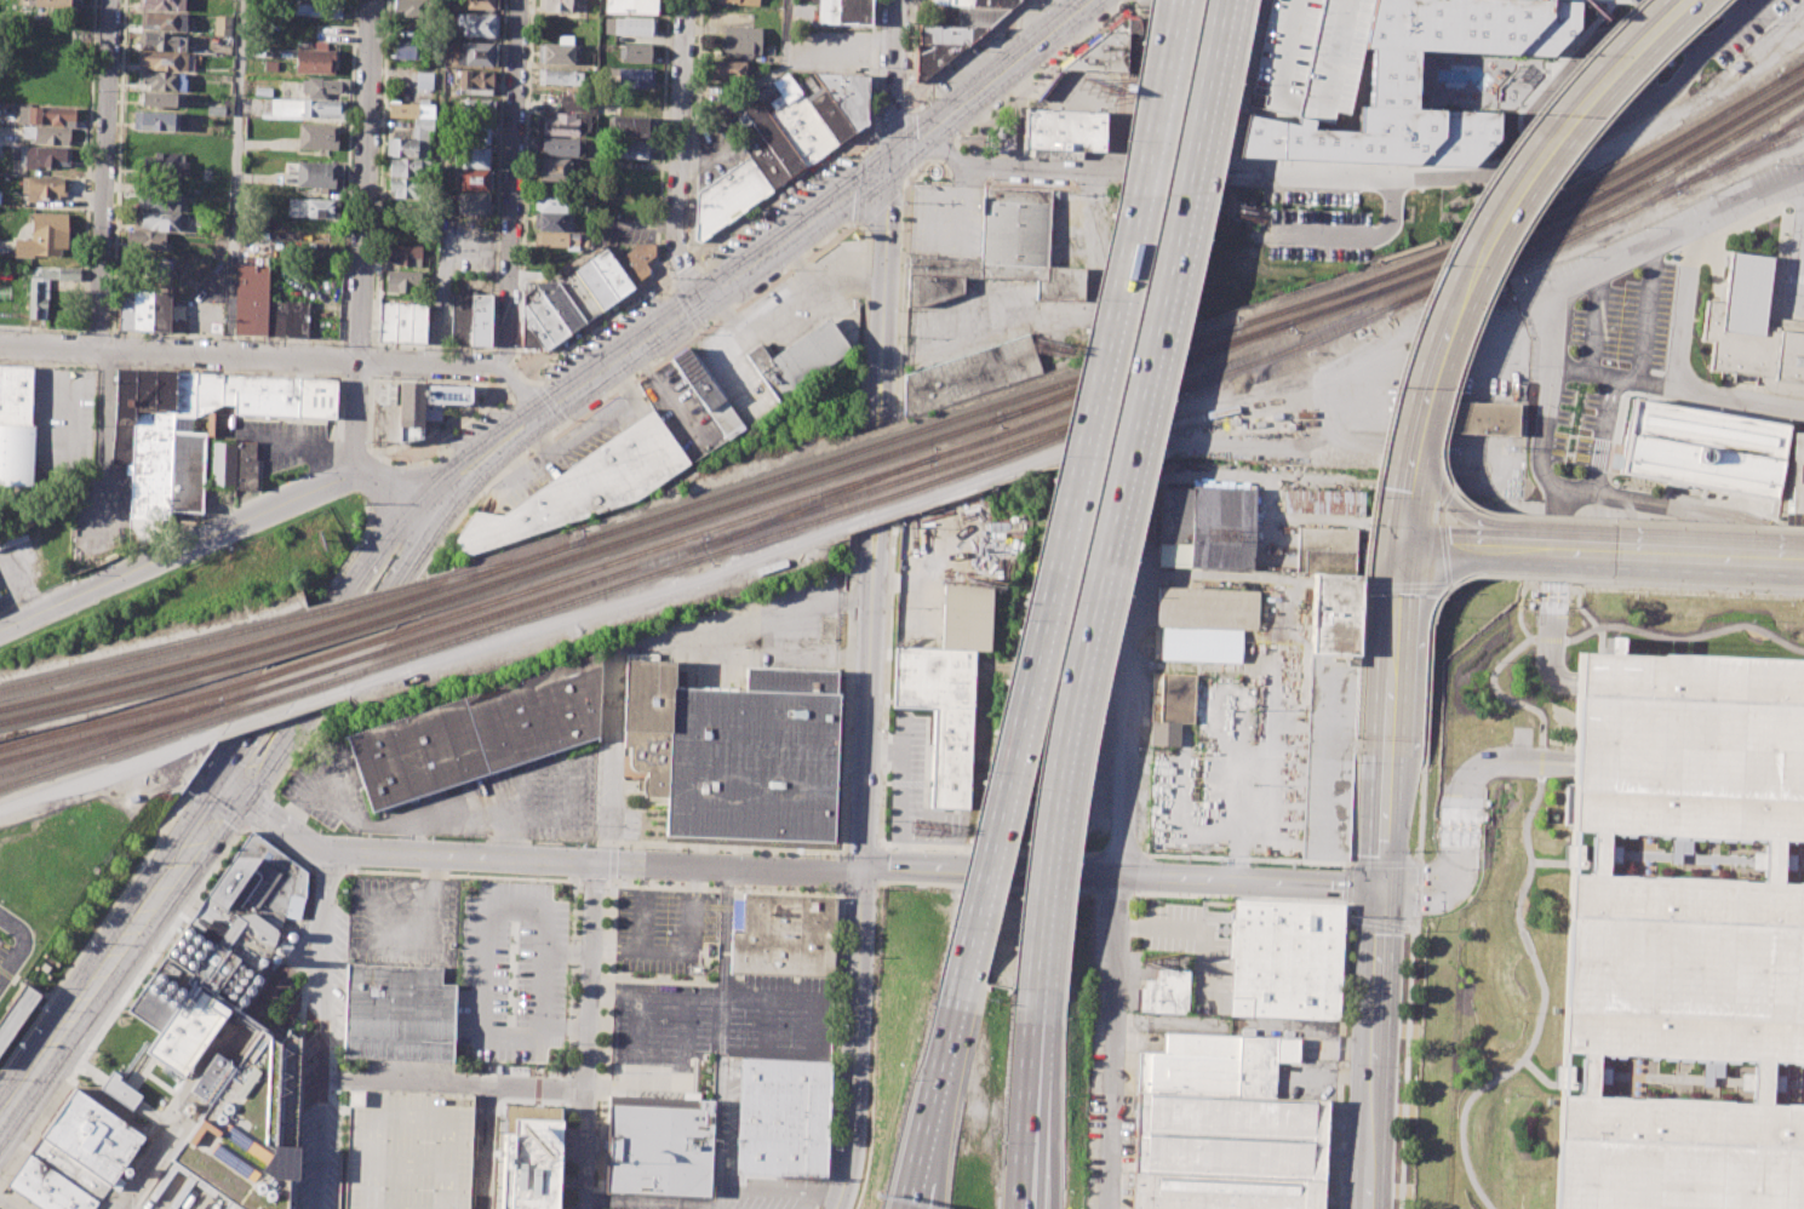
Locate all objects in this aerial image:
building: (939, 1)
building: (743, 2)
building: (998, 2)
street lamp: (1121, 2)
building: (162, 4)
building: (482, 4)
building: (556, 4)
building: (52, 5)
street lamp: (1042, 5)
building: (631, 6)
building: (316, 7)
building: (414, 8)
building: (842, 11)
building: (949, 13)
building: (983, 15)
street lamp: (1711, 16)
building: (162, 21)
building: (223, 24)
building: (477, 24)
building: (608, 25)
building: (635, 25)
street lamp: (1771, 25)
building: (952, 34)
building: (739, 40)
building: (160, 41)
building: (406, 50)
building: (557, 50)
building: (477, 53)
building: (637, 53)
building: (1104, 53)
street lamp: (1582, 55)
building: (1308, 56)
parking lot: (1308, 56)
building: (937, 58)
road: (1161, 59)
road: (1166, 59)
building: (162, 61)
building: (314, 61)
street lamp: (1729, 62)
building: (727, 69)
railway: (1793, 70)
street lamp: (1041, 71)
road: (1042, 71)
building: (556, 76)
building: (634, 78)
road: (895, 79)
road: (992, 79)
building: (160, 80)
building: (423, 80)
road: (762, 80)
building: (475, 82)
building: (1391, 82)
building: (321, 86)
building: (262, 91)
building: (851, 94)
street lamp: (923, 97)
building: (161, 99)
building: (307, 108)
building: (412, 108)
building: (477, 109)
building: (214, 110)
building: (50, 114)
building: (834, 115)
building: (154, 120)
building: (563, 124)
building: (630, 126)
railway: (1785, 126)
building: (806, 128)
building: (1063, 128)
railway: (1785, 128)
building: (46, 133)
building: (475, 133)
building: (317, 136)
street lamp: (956, 136)
building: (777, 139)
building: (1007, 139)
building: (411, 142)
building: (559, 147)
road: (682, 147)
building: (635, 148)
road: (944, 149)
building: (41, 156)
building: (473, 156)
railway: (1737, 156)
building: (766, 160)
traffic signals: (894, 160)
building: (165, 165)
building: (408, 167)
building: (554, 170)
building: (315, 174)
road: (105, 177)
road: (1365, 177)
road: (234, 179)
street lamp: (987, 179)
building: (471, 181)
road: (904, 183)
road: (434, 184)
street lamp: (1071, 184)
building: (46, 185)
road: (511, 185)
street lamp: (1554, 185)
building: (408, 188)
road: (1514, 188)
building: (731, 197)
building: (158, 200)
building: (554, 200)
street lamp: (903, 201)
building: (471, 204)
road: (881, 204)
building: (310, 208)
railway: (1597, 208)
flagpole: (1785, 210)
railway: (1529, 213)
road: (1803, 216)
railway: (1553, 217)
road: (1803, 218)
building: (155, 220)
building: (552, 220)
street lamp: (849, 223)
road: (791, 227)
railway: (1577, 231)
building: (42, 235)
road: (366, 236)
road: (1356, 237)
building: (145, 240)
building: (555, 241)
building: (402, 252)
building: (1004, 253)
building: (642, 258)
street lamp: (1294, 262)
road: (1797, 264)
street lamp: (1437, 265)
parking lot: (1796, 268)
street lamp: (783, 269)
building: (615, 274)
road: (888, 275)
building: (400, 280)
road: (903, 280)
building: (45, 286)
building: (599, 286)
street lamp: (647, 291)
building: (582, 297)
building: (250, 299)
building: (563, 305)
road: (1685, 305)
building: (133, 309)
street lamp: (898, 309)
building: (161, 310)
road: (1645, 313)
parking lot: (1616, 314)
building: (287, 317)
building: (470, 320)
road: (1593, 320)
building: (401, 322)
building: (545, 322)
building: (1751, 323)
road: (1558, 325)
street lamp: (704, 326)
road: (863, 326)
road: (1411, 333)
building: (531, 338)
railway: (1283, 350)
street lamp: (560, 353)
road: (181, 357)
building: (798, 357)
road: (457, 369)
railway: (1117, 371)
building: (968, 373)
road: (1456, 380)
road: (104, 389)
building: (206, 391)
railway: (1111, 391)
street lamp: (1456, 391)
road: (1609, 391)
building: (16, 394)
building: (183, 394)
building: (385, 394)
building: (705, 394)
building: (260, 395)
road: (41, 396)
road: (552, 396)
street lamp: (602, 396)
building: (316, 397)
building: (429, 406)
road: (887, 406)
road: (871, 408)
street lamp: (895, 416)
building: (1479, 418)
street lamp: (370, 442)
building: (156, 445)
road: (1600, 448)
building: (1703, 449)
street lamp: (526, 452)
street lamp: (377, 454)
building: (16, 457)
railway: (826, 459)
road: (519, 462)
building: (233, 464)
railway: (943, 465)
railway: (847, 466)
street lamp: (303, 471)
building: (1797, 475)
road: (103, 477)
road: (1405, 480)
building: (584, 487)
road: (1449, 487)
road: (1585, 492)
street lamp: (1370, 494)
road: (1443, 497)
road: (1118, 498)
railway: (820, 500)
road: (1447, 502)
building: (1323, 503)
street lamp: (1433, 509)
road: (1437, 512)
street lamp: (1621, 517)
street lamp: (200, 522)
building: (1204, 528)
railway: (778, 532)
road: (213, 540)
street lamp: (445, 542)
traffic signals: (1399, 543)
railway: (663, 544)
road: (1460, 545)
building: (1325, 549)
road: (1058, 550)
road: (1662, 552)
road: (880, 557)
road: (865, 561)
railway: (502, 562)
street lamp: (86, 573)
road: (1546, 578)
street lamp: (1516, 579)
road: (1438, 585)
road: (1365, 586)
road: (1448, 586)
street lamp: (1720, 589)
railway: (543, 596)
road: (1551, 596)
railway: (365, 598)
railway: (351, 614)
building: (1334, 614)
building: (966, 617)
building: (1204, 620)
street lamp: (1432, 620)
railway: (339, 631)
road: (1548, 638)
road: (1394, 640)
road: (1686, 640)
building: (1613, 644)
road: (323, 649)
railway: (153, 652)
road: (646, 652)
railway: (325, 655)
railway: (313, 672)
railway: (143, 674)
railway: (136, 688)
railway: (303, 688)
road: (1501, 694)
building: (647, 695)
road: (846, 695)
building: (1172, 710)
railway: (128, 715)
road: (867, 728)
building: (930, 728)
railway: (110, 733)
railway: (122, 733)
building: (479, 733)
road: (1238, 737)
railway: (116, 749)
building: (754, 757)
building: (649, 758)
road: (1541, 760)
parking lot: (1329, 761)
street lamp: (1355, 762)
street lamp: (1425, 766)
road: (1121, 780)
road: (1450, 789)
road: (882, 792)
parking lot: (457, 797)
street lamp: (276, 798)
road: (1355, 798)
street lamp: (188, 800)
road: (1421, 800)
road: (257, 808)
road: (1387, 810)
road: (1474, 833)
street lamp: (234, 836)
road: (878, 843)
road: (277, 847)
road: (727, 847)
road: (861, 848)
street lamp: (1414, 849)
road: (1455, 853)
road: (1121, 854)
road: (537, 859)
road: (1248, 859)
road: (612, 861)
road: (1352, 863)
road: (1385, 864)
road: (1348, 865)
road: (331, 870)
road: (1464, 870)
road: (840, 873)
road: (1124, 873)
road: (560, 879)
road: (578, 881)
road: (592, 882)
road: (1348, 883)
road: (985, 886)
road: (860, 887)
road: (164, 888)
road: (723, 888)
road: (1418, 888)
road: (1112, 890)
road: (1241, 898)
road: (1346, 913)
parking lot: (403, 923)
road: (1379, 923)
road: (1415, 923)
road: (1191, 926)
parking lot: (663, 929)
building: (784, 935)
building: (1684, 938)
road: (23, 946)
street lamp: (154, 952)
building: (217, 955)
building: (1285, 959)
parking lot: (510, 973)
building: (1166, 992)
road: (121, 1001)
road: (1540, 1007)
building: (397, 1013)
building: (17, 1016)
parking lot: (721, 1019)
street lamp: (32, 1026)
road: (322, 1030)
road: (588, 1033)
road: (720, 1037)
road: (855, 1038)
road: (1113, 1041)
road: (603, 1043)
road: (1378, 1047)
road: (1032, 1048)
street lamp: (86, 1049)
road: (832, 1050)
road: (50, 1053)
road: (1339, 1064)
building: (1214, 1065)
road: (1405, 1065)
road: (1536, 1072)
road: (453, 1082)
road: (566, 1089)
road: (937, 1095)
building: (128, 1098)
road: (1128, 1110)
building: (781, 1117)
building: (242, 1124)
building: (1229, 1135)
building: (91, 1136)
building: (406, 1150)
parking garage: (406, 1150)
building: (659, 1150)
road: (1021, 1152)
road: (1042, 1152)
road: (563, 1154)
building: (531, 1164)
building: (69, 1169)
street lamp: (0, 1175)
building: (47, 1187)
building: (1224, 1191)
road: (922, 1192)
building: (229, 1205)
road: (1042, 1208)

